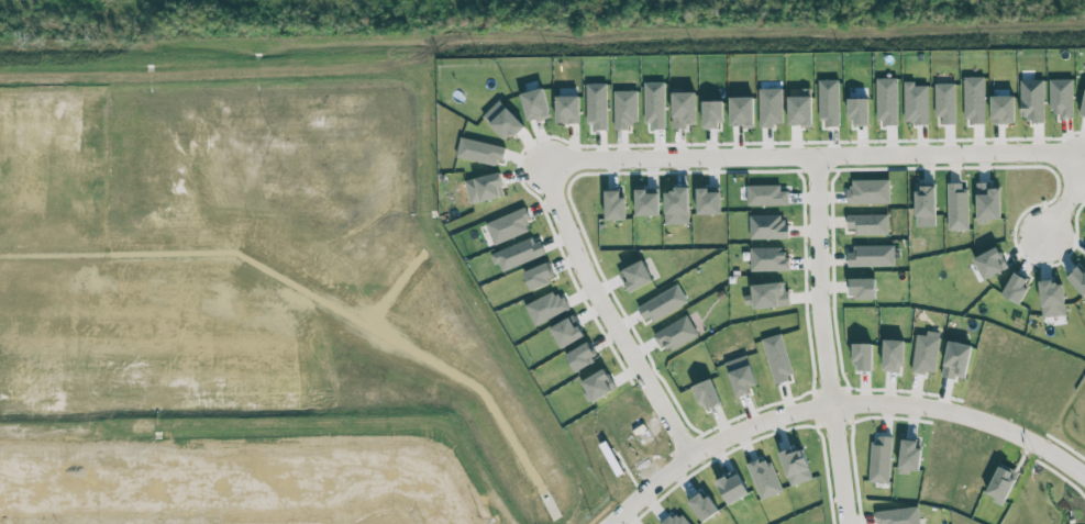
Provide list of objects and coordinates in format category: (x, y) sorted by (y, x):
building: (1062, 97)
building: (974, 99)
building: (1032, 100)
building: (887, 101)
building: (830, 102)
building: (946, 102)
building: (916, 103)
building: (535, 104)
building: (655, 105)
building: (597, 107)
building: (568, 109)
building: (625, 109)
building: (1004, 109)
building: (1083, 109)
building: (800, 110)
building: (742, 111)
building: (860, 111)
building: (712, 114)
building: (503, 121)
building: (481, 152)
building: (484, 188)
building: (870, 191)
road: (1066, 197)
building: (677, 200)
building: (926, 200)
building: (708, 202)
building: (988, 202)
building: (646, 203)
building: (615, 204)
building: (959, 205)
building: (868, 224)
building: (510, 225)
building: (768, 226)
building: (520, 254)
building: (872, 255)
building: (768, 259)
road: (578, 260)
building: (990, 263)
building: (539, 276)
building: (635, 276)
building: (1078, 279)
building: (862, 288)
building: (1016, 288)
building: (770, 296)
building: (1052, 298)
building: (663, 304)
building: (546, 308)
building: (567, 333)
building: (675, 334)
road: (820, 342)
building: (580, 356)
building: (778, 358)
building: (742, 375)
building: (597, 386)
building: (707, 394)
building: (796, 466)
building: (765, 478)
building: (1001, 483)
building: (733, 488)
road: (649, 490)
building: (899, 516)

